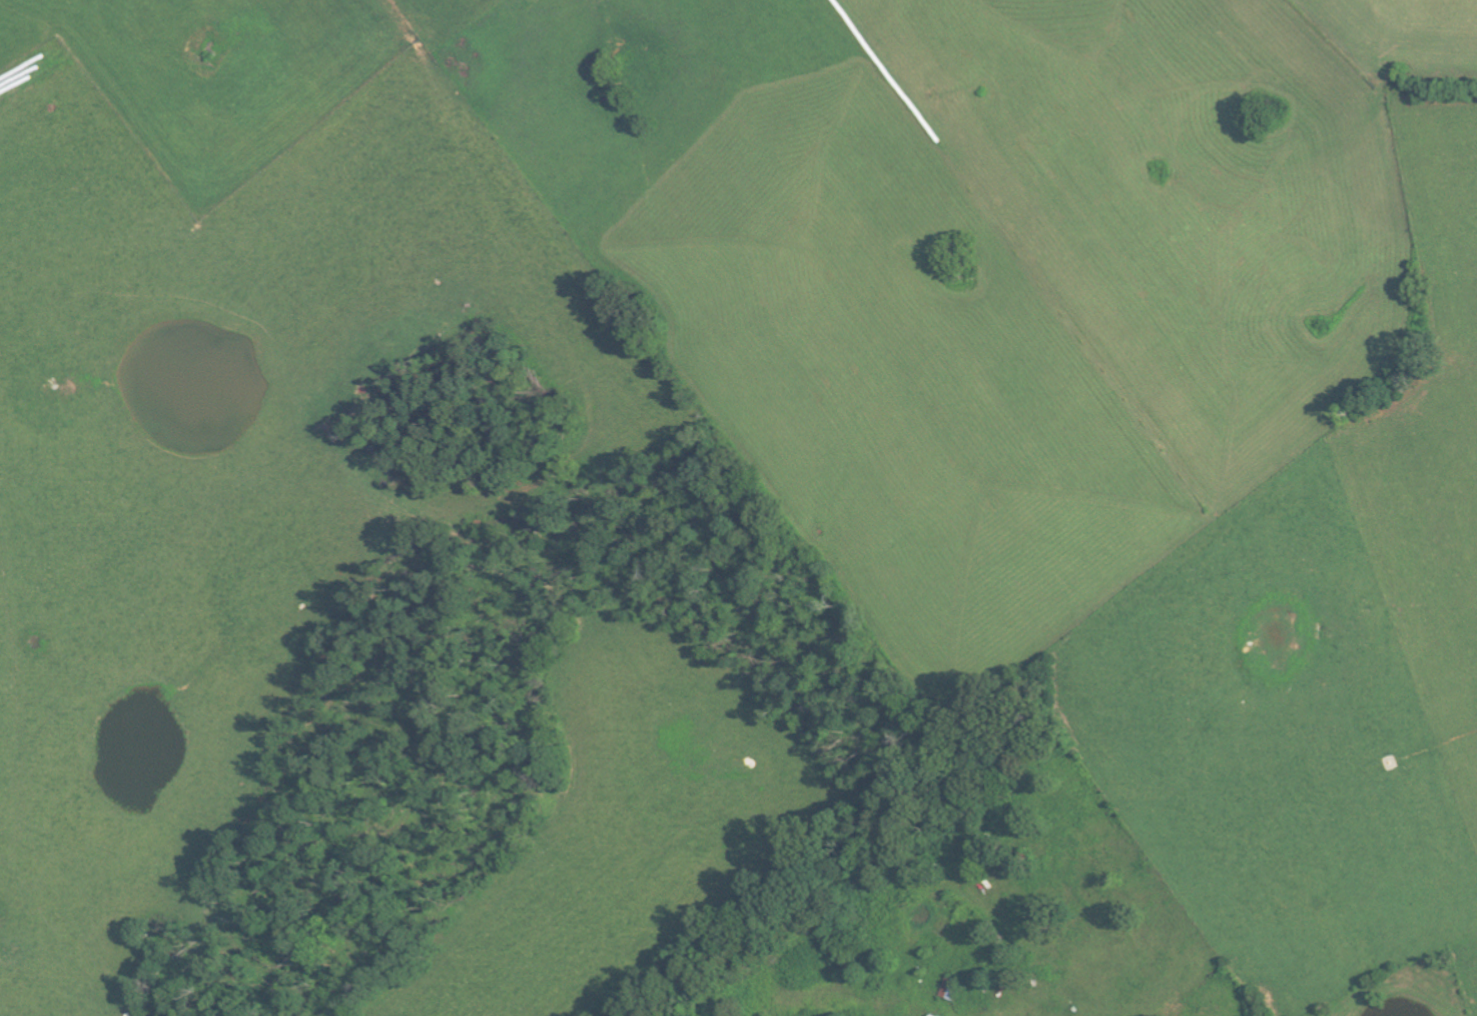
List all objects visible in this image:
building: (933, 1015)

